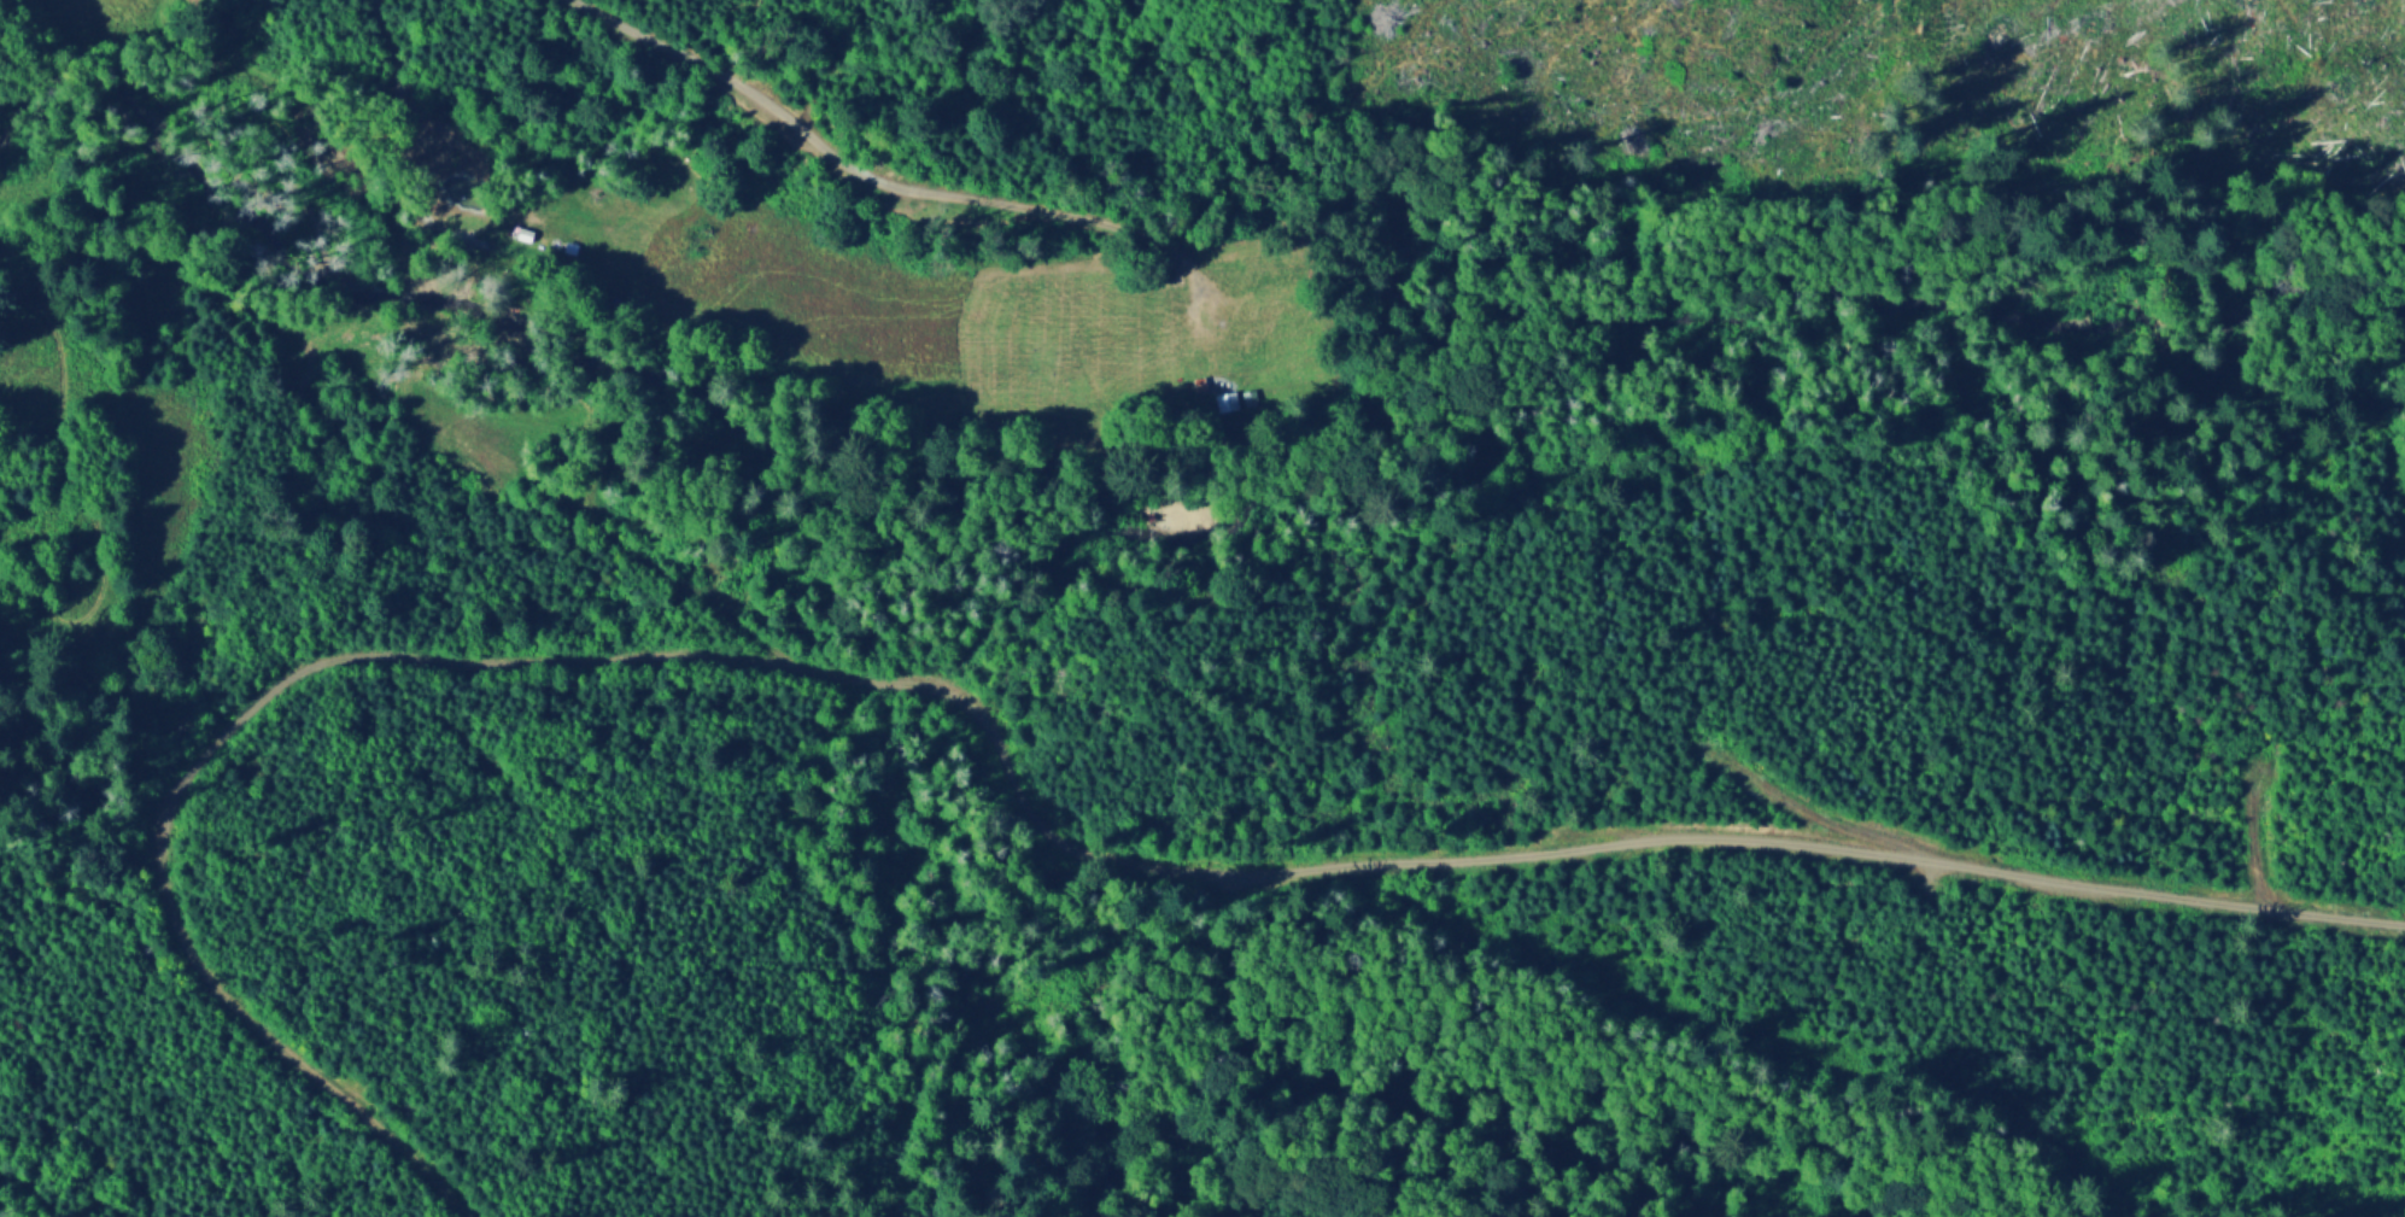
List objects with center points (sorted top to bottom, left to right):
road: (1048, 100)
road: (879, 181)
road: (463, 439)
road: (1000, 757)

